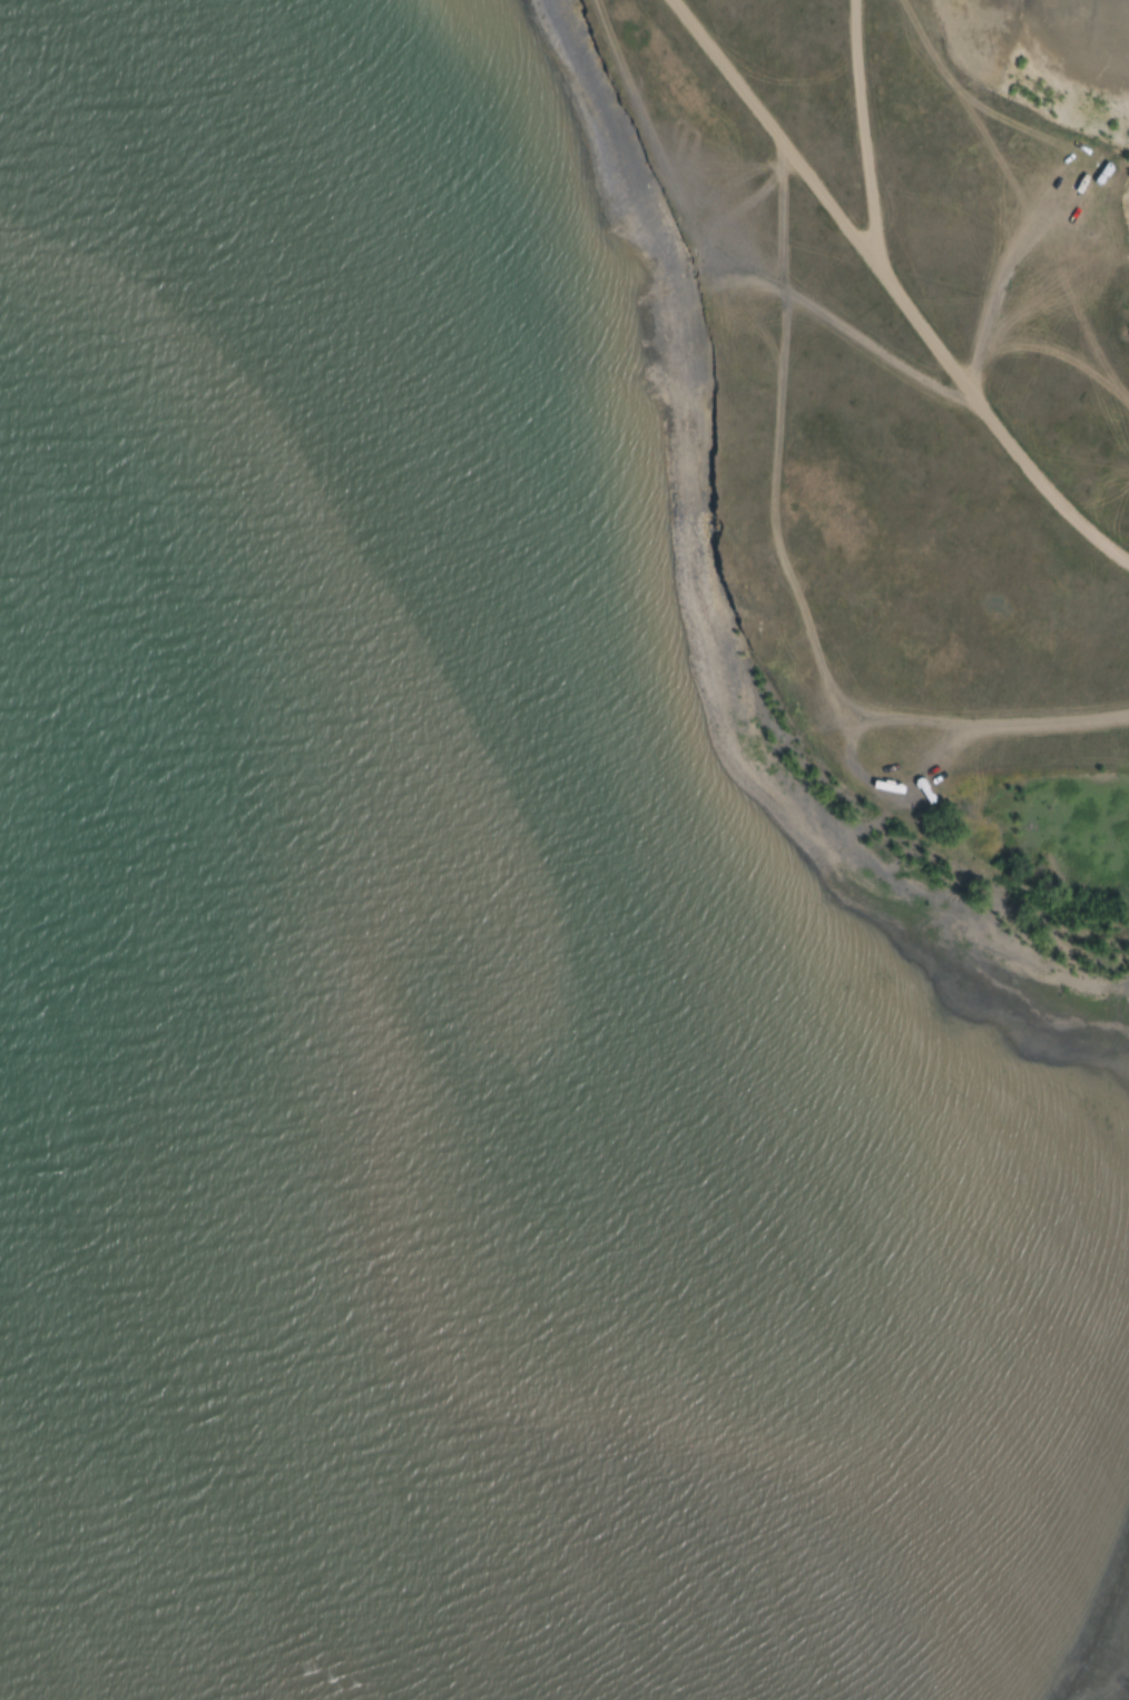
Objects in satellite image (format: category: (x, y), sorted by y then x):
road: (767, 119)
road: (863, 119)
road: (975, 415)

